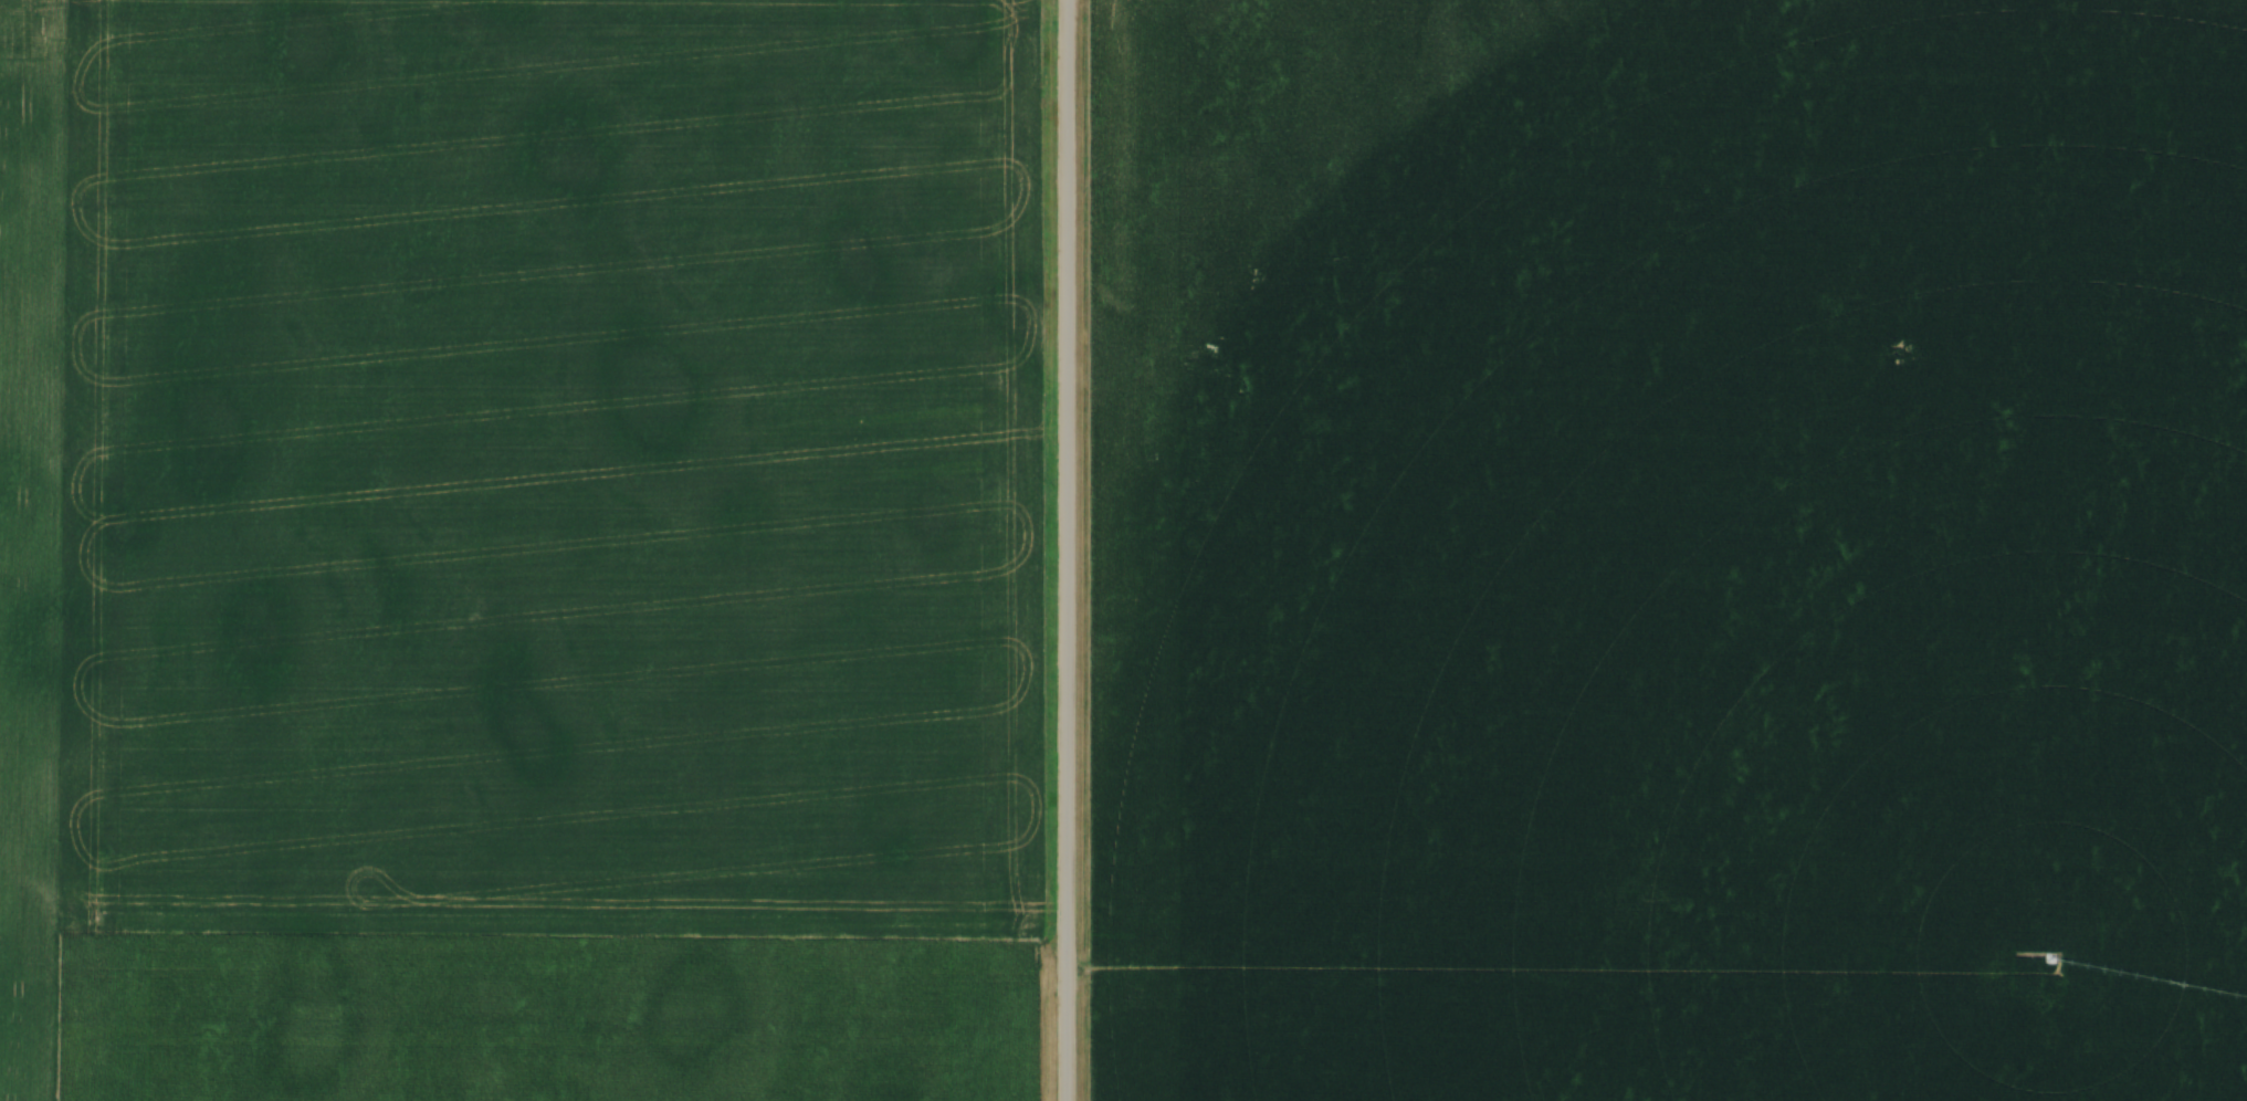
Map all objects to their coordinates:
road: (1065, 549)
building: (1772, 950)
road: (1424, 977)
building: (1734, 1031)
building: (1858, 1039)
building: (1900, 1084)

